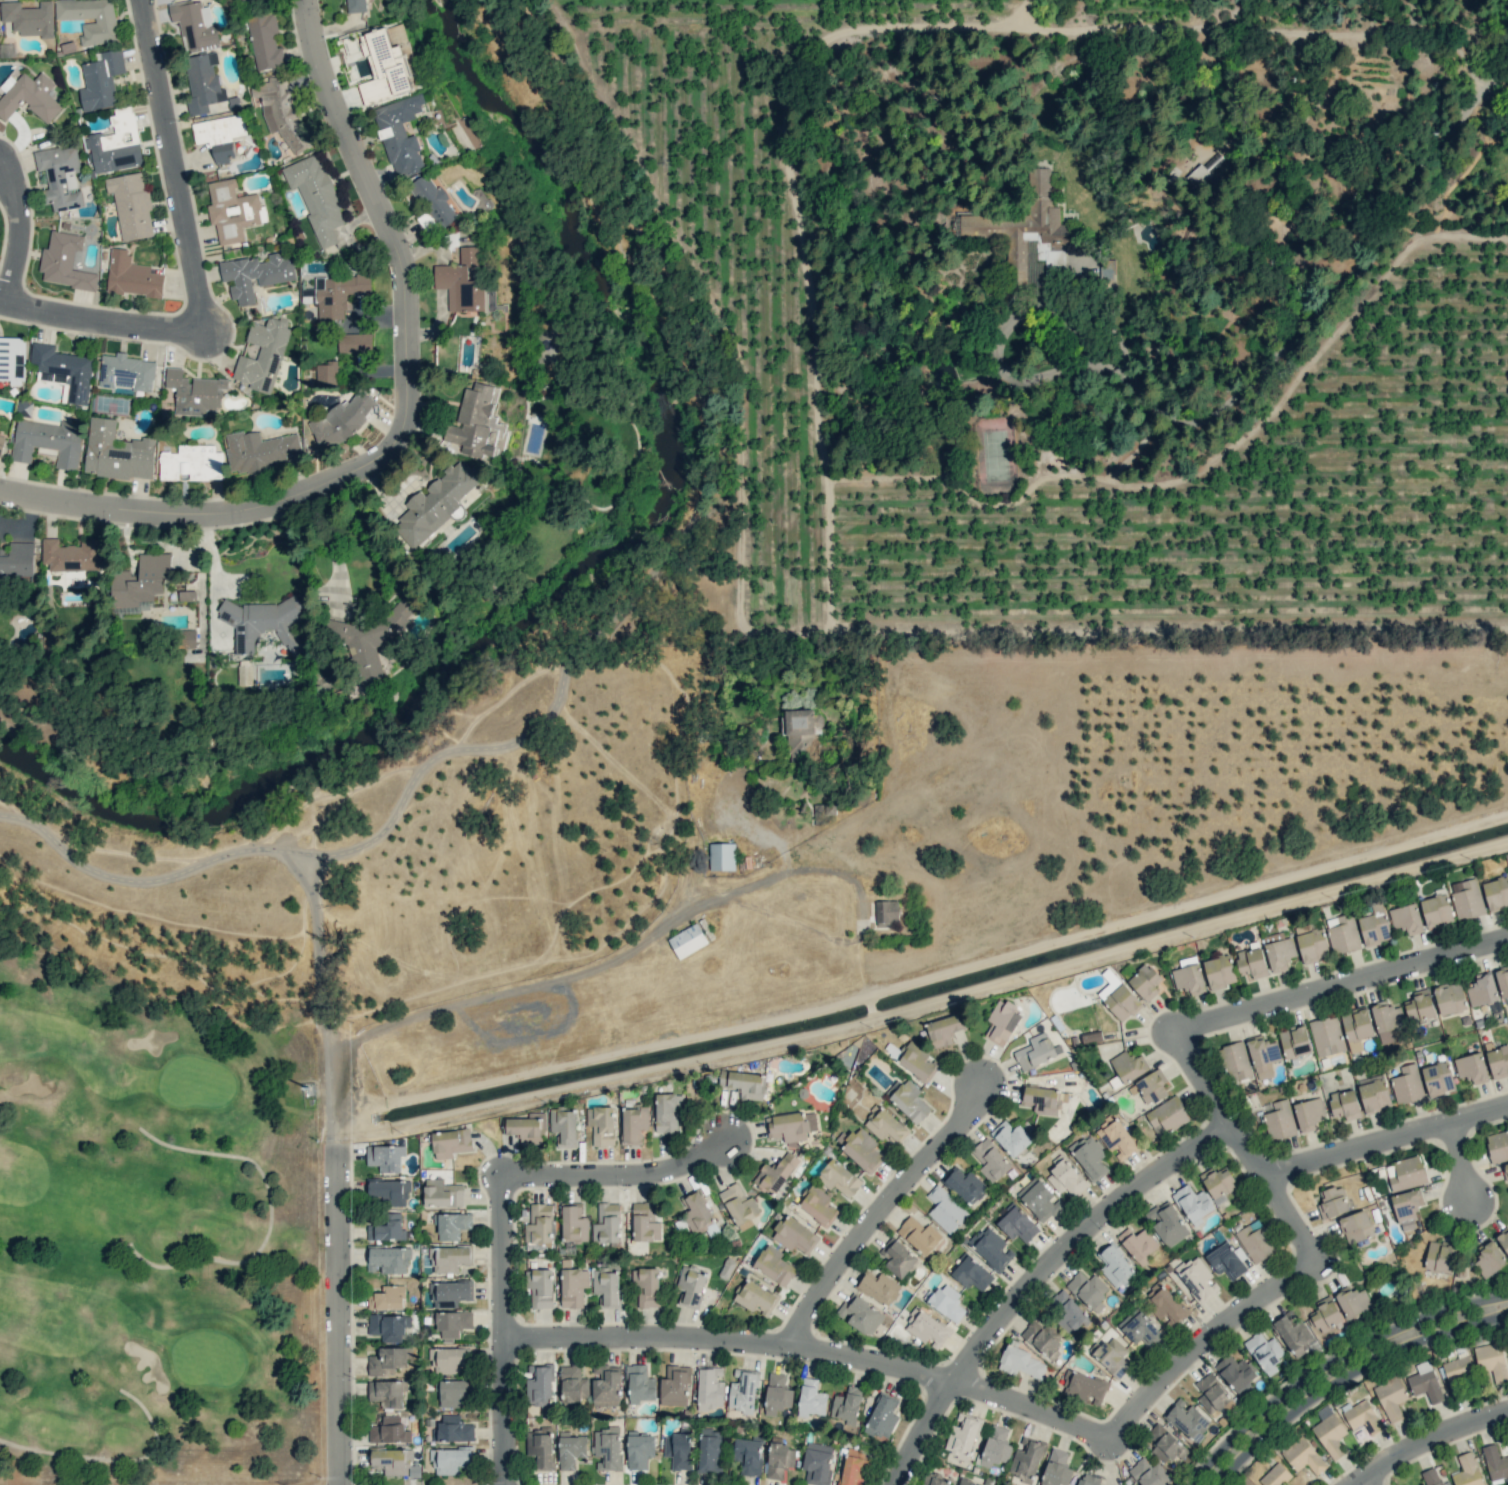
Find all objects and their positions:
building: (245, 1)
building: (356, 6)
building: (28, 18)
building: (90, 19)
building: (194, 22)
building: (265, 41)
building: (384, 67)
building: (101, 79)
building: (203, 83)
building: (30, 97)
building: (282, 113)
building: (220, 135)
building: (400, 135)
building: (116, 143)
road: (175, 167)
building: (1199, 176)
building: (60, 177)
building: (431, 203)
building: (131, 205)
building: (232, 210)
building: (1026, 232)
road: (19, 241)
building: (65, 262)
building: (1107, 270)
building: (256, 274)
building: (132, 276)
building: (461, 283)
road: (1329, 289)
building: (336, 294)
road: (104, 327)
road: (1004, 329)
building: (354, 342)
building: (262, 355)
building: (12, 359)
building: (65, 370)
building: (126, 372)
building: (326, 374)
building: (195, 392)
building: (341, 420)
road: (404, 421)
building: (477, 422)
building: (48, 441)
building: (1, 443)
building: (259, 451)
building: (117, 452)
building: (192, 462)
building: (436, 502)
road: (332, 545)
building: (72, 555)
building: (17, 559)
building: (140, 582)
building: (262, 623)
road: (585, 628)
building: (186, 638)
building: (370, 638)
building: (243, 675)
building: (801, 733)
building: (722, 856)
building: (1496, 893)
building: (1467, 899)
building: (887, 911)
building: (1436, 911)
building: (1406, 918)
building: (1374, 928)
building: (1343, 933)
building: (688, 940)
building: (1311, 943)
building: (1279, 951)
building: (1251, 962)
building: (1219, 972)
building: (1189, 979)
building: (1145, 981)
building: (1502, 981)
road: (1340, 986)
road: (524, 988)
building: (1482, 990)
building: (1450, 998)
building: (1118, 999)
building: (1419, 1005)
building: (1387, 1020)
building: (1001, 1022)
building: (1356, 1028)
building: (944, 1029)
building: (1327, 1036)
building: (1091, 1037)
building: (1294, 1041)
building: (1035, 1051)
building: (1263, 1056)
building: (1235, 1061)
building: (1498, 1061)
building: (917, 1062)
building: (1128, 1066)
building: (1471, 1068)
building: (1437, 1078)
building: (747, 1084)
building: (1407, 1085)
building: (1151, 1087)
building: (1374, 1094)
building: (1041, 1100)
building: (910, 1102)
building: (1344, 1104)
building: (667, 1113)
building: (1309, 1114)
building: (1167, 1116)
building: (1279, 1120)
building: (634, 1124)
building: (885, 1124)
building: (601, 1125)
building: (791, 1125)
building: (564, 1126)
building: (527, 1128)
building: (1011, 1138)
building: (1116, 1138)
building: (450, 1142)
road: (1384, 1143)
building: (1498, 1146)
road: (1244, 1149)
building: (863, 1150)
building: (1089, 1156)
building: (385, 1157)
building: (990, 1160)
road: (1457, 1166)
building: (1505, 1170)
building: (1405, 1173)
building: (775, 1174)
road: (617, 1176)
building: (839, 1178)
building: (1065, 1178)
building: (1219, 1184)
building: (966, 1185)
building: (389, 1192)
building: (442, 1194)
building: (1041, 1200)
building: (1332, 1202)
building: (1193, 1203)
building: (739, 1205)
building: (817, 1205)
building: (1406, 1205)
building: (945, 1209)
road: (879, 1211)
building: (698, 1215)
building: (645, 1222)
building: (574, 1223)
building: (607, 1223)
building: (1167, 1223)
building: (539, 1224)
building: (452, 1225)
building: (1017, 1225)
building: (1356, 1226)
building: (387, 1229)
building: (794, 1234)
building: (920, 1235)
building: (1503, 1239)
building: (1255, 1242)
building: (1138, 1243)
building: (992, 1247)
building: (1440, 1257)
building: (450, 1258)
park: (144, 1259)
building: (898, 1259)
building: (1489, 1259)
building: (388, 1260)
building: (1227, 1261)
building: (774, 1265)
building: (1116, 1266)
building: (972, 1274)
building: (1195, 1279)
road: (1034, 1280)
building: (606, 1286)
building: (646, 1286)
building: (690, 1286)
building: (540, 1287)
building: (573, 1287)
building: (879, 1287)
building: (1088, 1290)
building: (450, 1293)
building: (387, 1298)
building: (756, 1298)
building: (1353, 1301)
building: (947, 1302)
building: (1164, 1304)
building: (1066, 1312)
building: (1326, 1313)
building: (860, 1314)
road: (341, 1315)
building: (453, 1323)
building: (389, 1326)
building: (927, 1329)
building: (1141, 1329)
road: (501, 1331)
building: (1292, 1333)
building: (1042, 1337)
road: (1202, 1343)
road: (811, 1350)
building: (1265, 1352)
building: (1113, 1355)
road: (1330, 1357)
building: (390, 1360)
building: (451, 1360)
building: (1492, 1361)
building: (1022, 1363)
building: (1458, 1371)
building: (1236, 1372)
road: (1345, 1372)
building: (1425, 1382)
building: (573, 1384)
building: (640, 1384)
building: (540, 1385)
building: (675, 1386)
building: (1083, 1387)
building: (710, 1388)
building: (743, 1391)
building: (387, 1393)
building: (453, 1393)
building: (777, 1394)
building: (1212, 1394)
building: (811, 1398)
building: (1391, 1398)
building: (847, 1405)
building: (1361, 1416)
building: (882, 1417)
building: (1187, 1419)
building: (453, 1429)
building: (389, 1431)
building: (1329, 1432)
building: (963, 1435)
road: (1428, 1441)
building: (1165, 1444)
building: (995, 1446)
building: (540, 1447)
building: (607, 1449)
building: (640, 1449)
building: (710, 1449)
building: (571, 1450)
building: (678, 1450)
building: (749, 1455)
building: (1304, 1456)
building: (1027, 1458)
building: (451, 1460)
building: (780, 1460)
building: (395, 1462)
building: (817, 1463)
building: (1495, 1463)
building: (854, 1467)
building: (1056, 1468)
building: (1467, 1470)
building: (1149, 1473)
building: (1275, 1475)
building: (1431, 1477)
building: (1089, 1479)
building: (934, 1480)
building: (967, 1482)
road: (1367, 1482)

